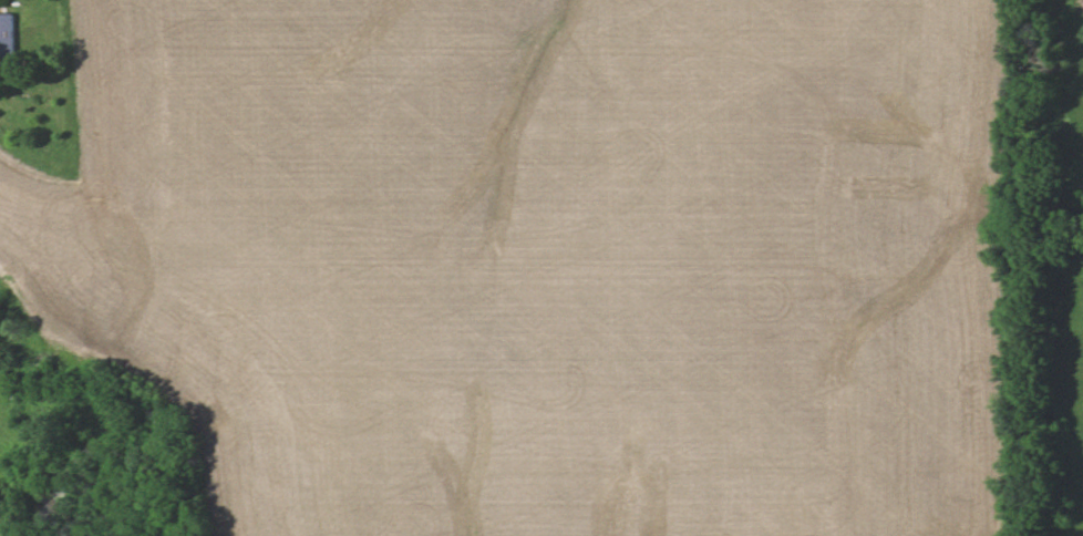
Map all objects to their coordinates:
building: (8, 34)

